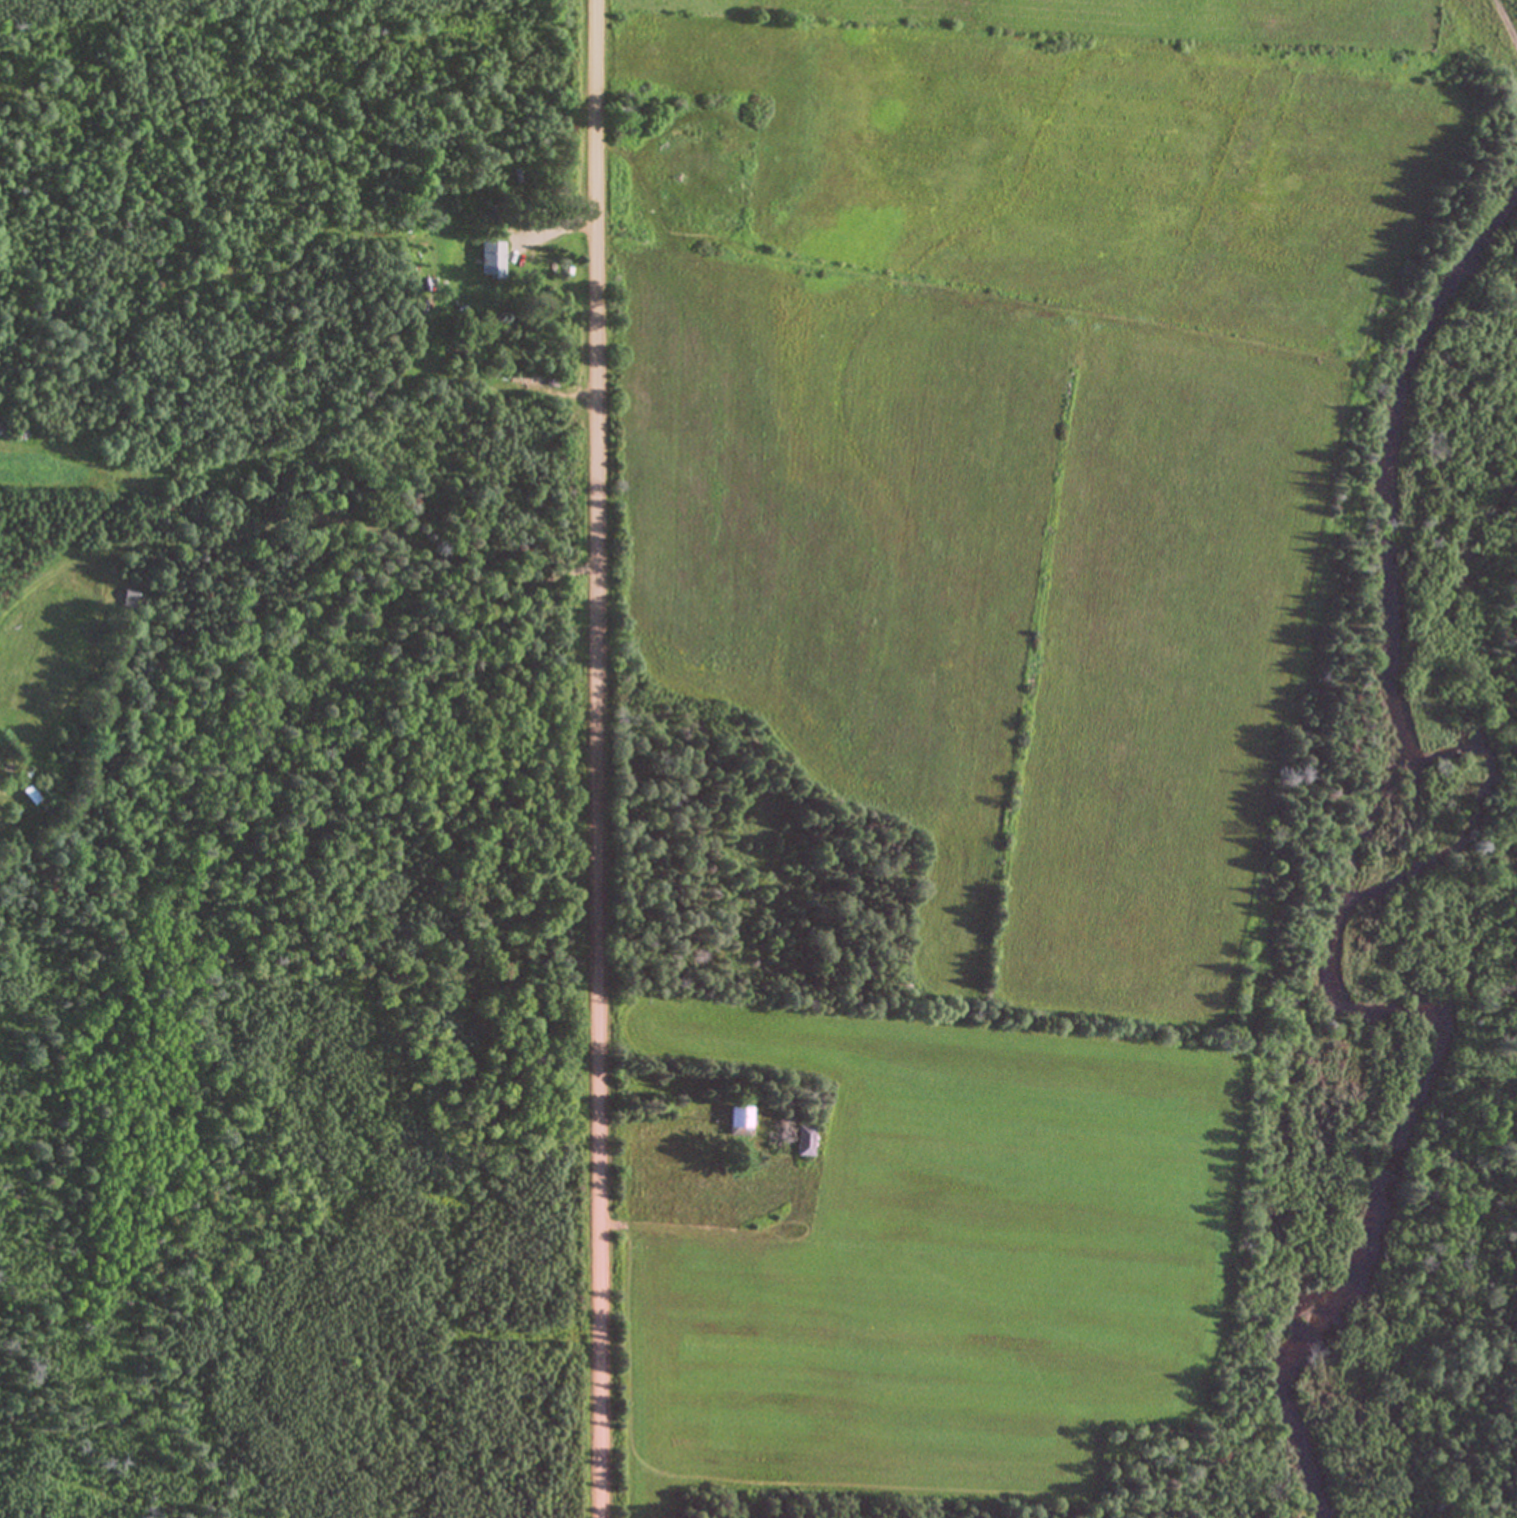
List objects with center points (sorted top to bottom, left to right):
crop: (1058, 45)
road: (556, 231)
building: (491, 259)
road: (407, 539)
building: (129, 596)
road: (596, 758)
river: (1390, 870)
building: (737, 1119)
building: (803, 1139)
road: (695, 1227)

